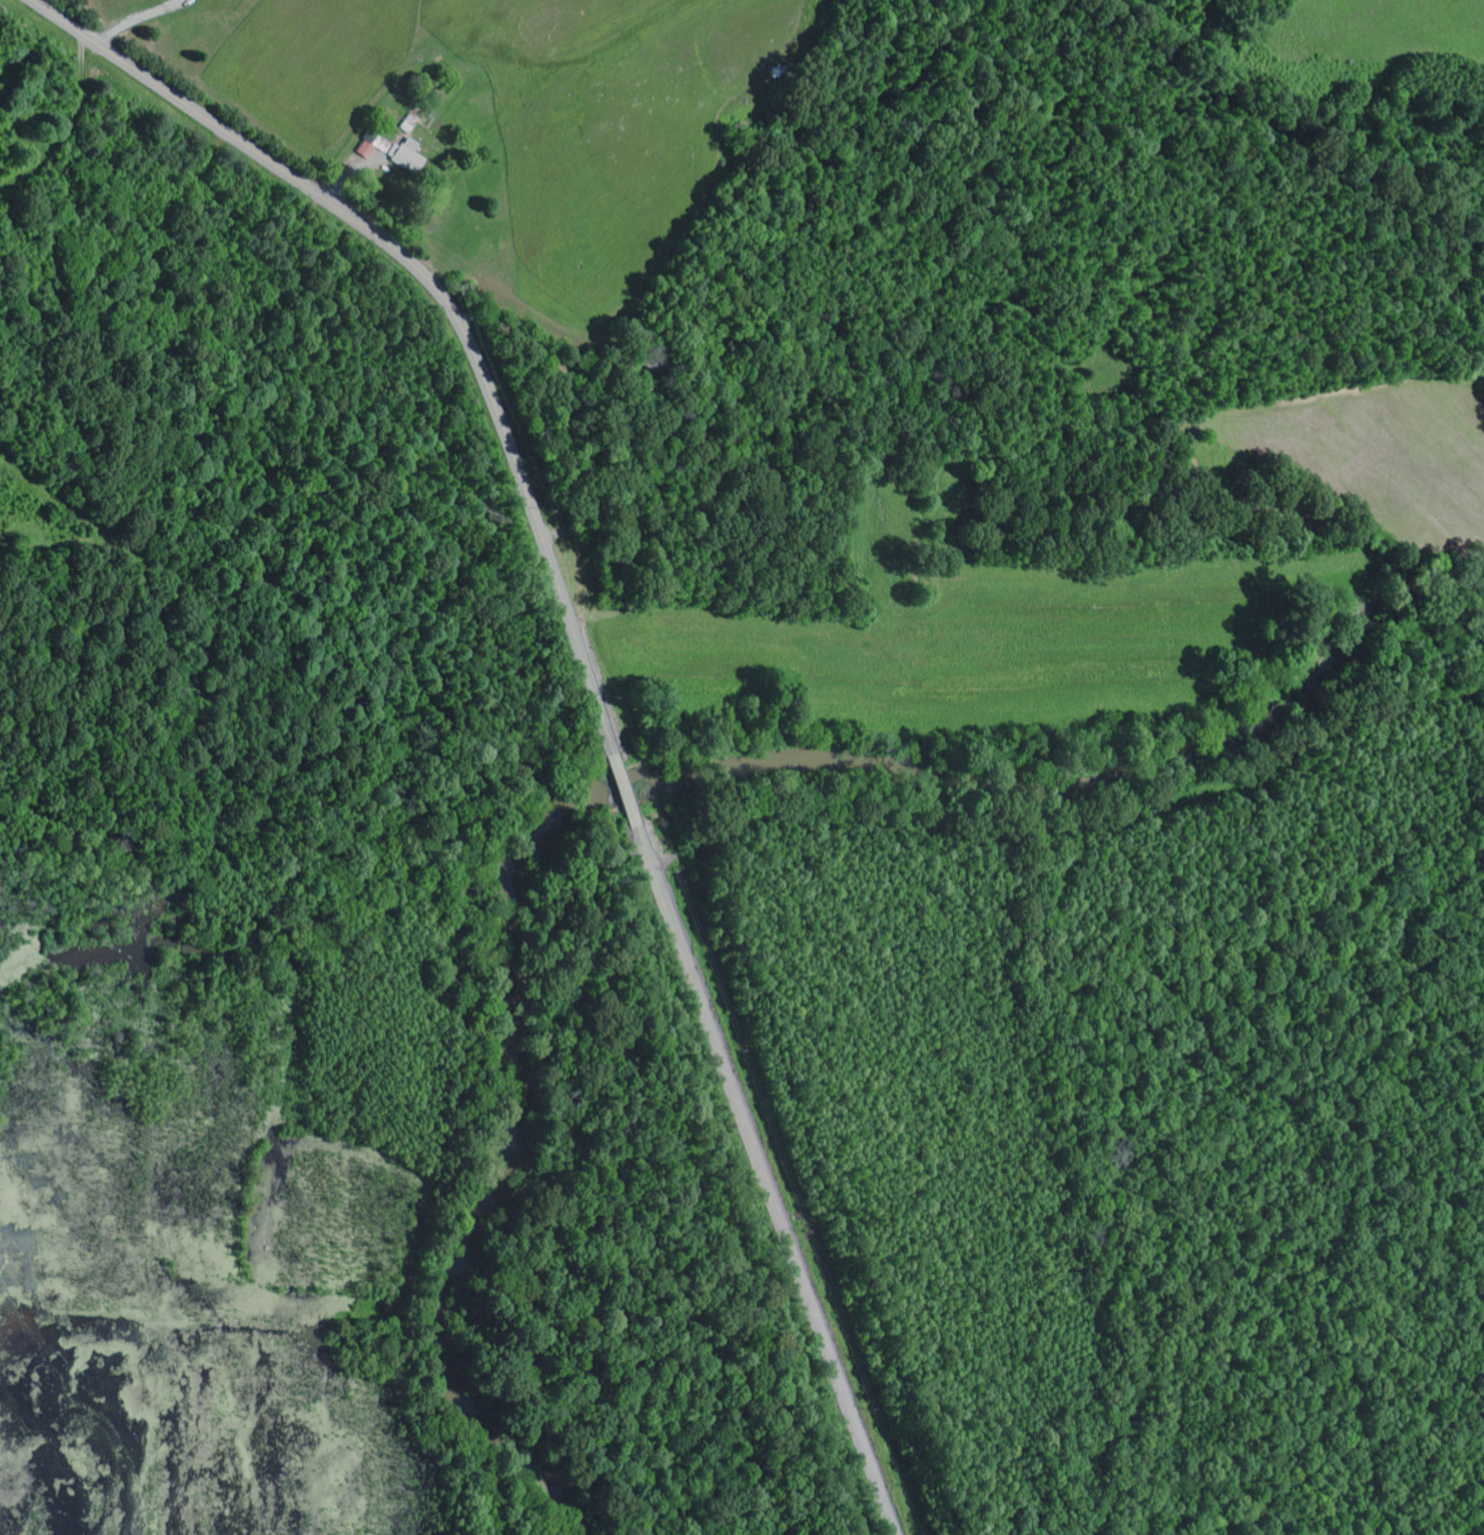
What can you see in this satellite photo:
building: (398, 154)
road: (445, 301)
river: (642, 775)
road: (759, 1158)

